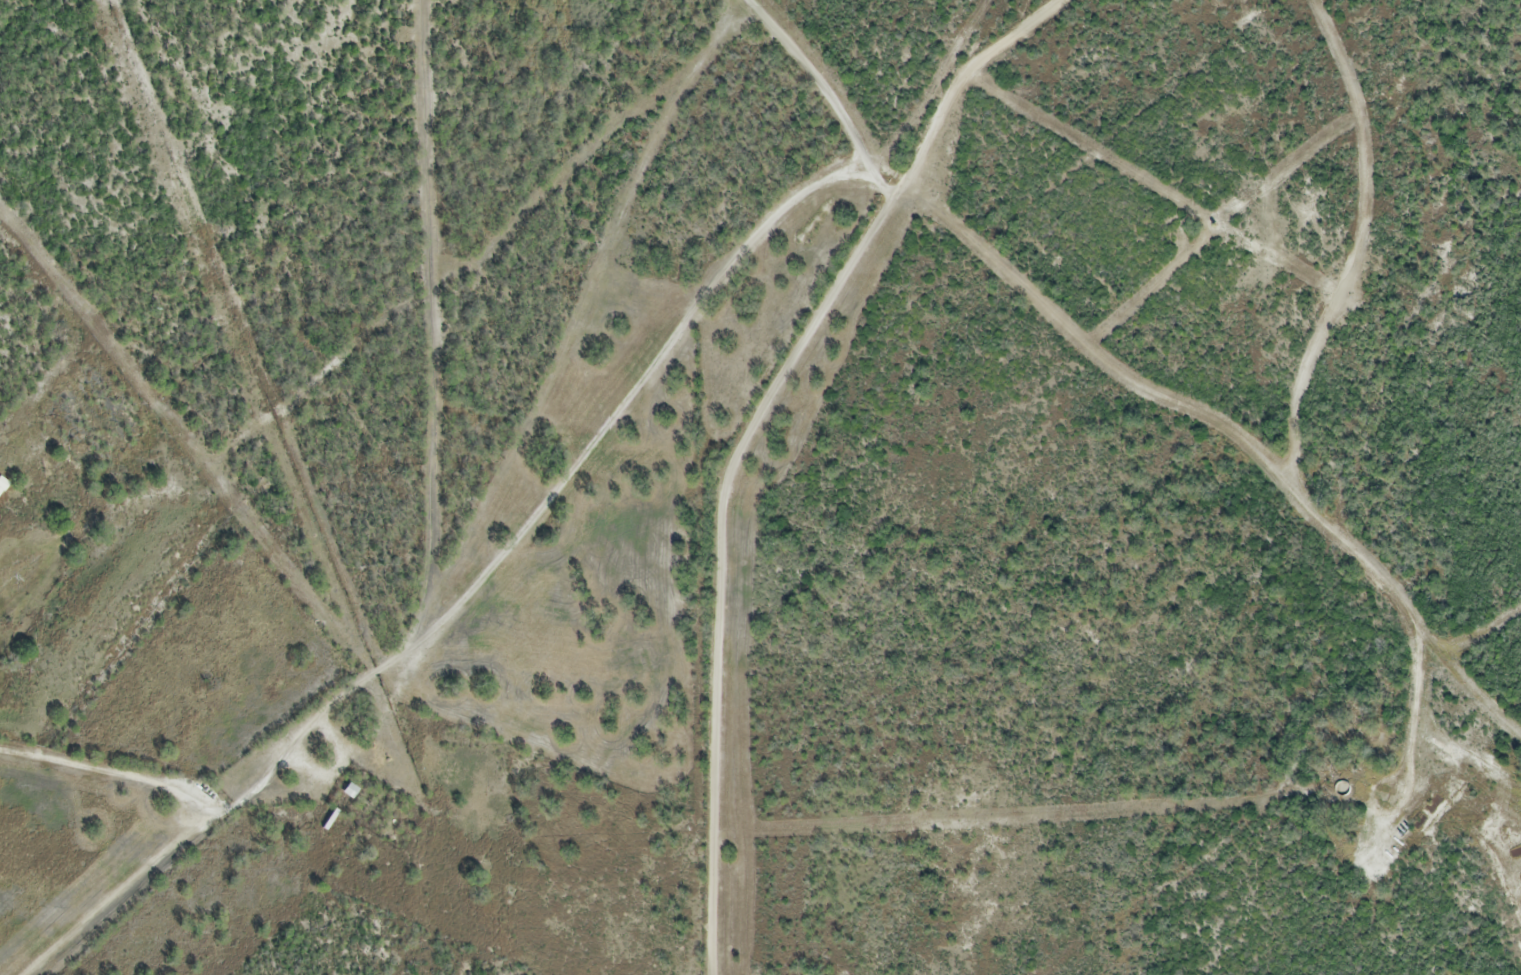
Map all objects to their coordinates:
road: (744, 436)
road: (589, 445)
building: (352, 788)
building: (331, 817)

